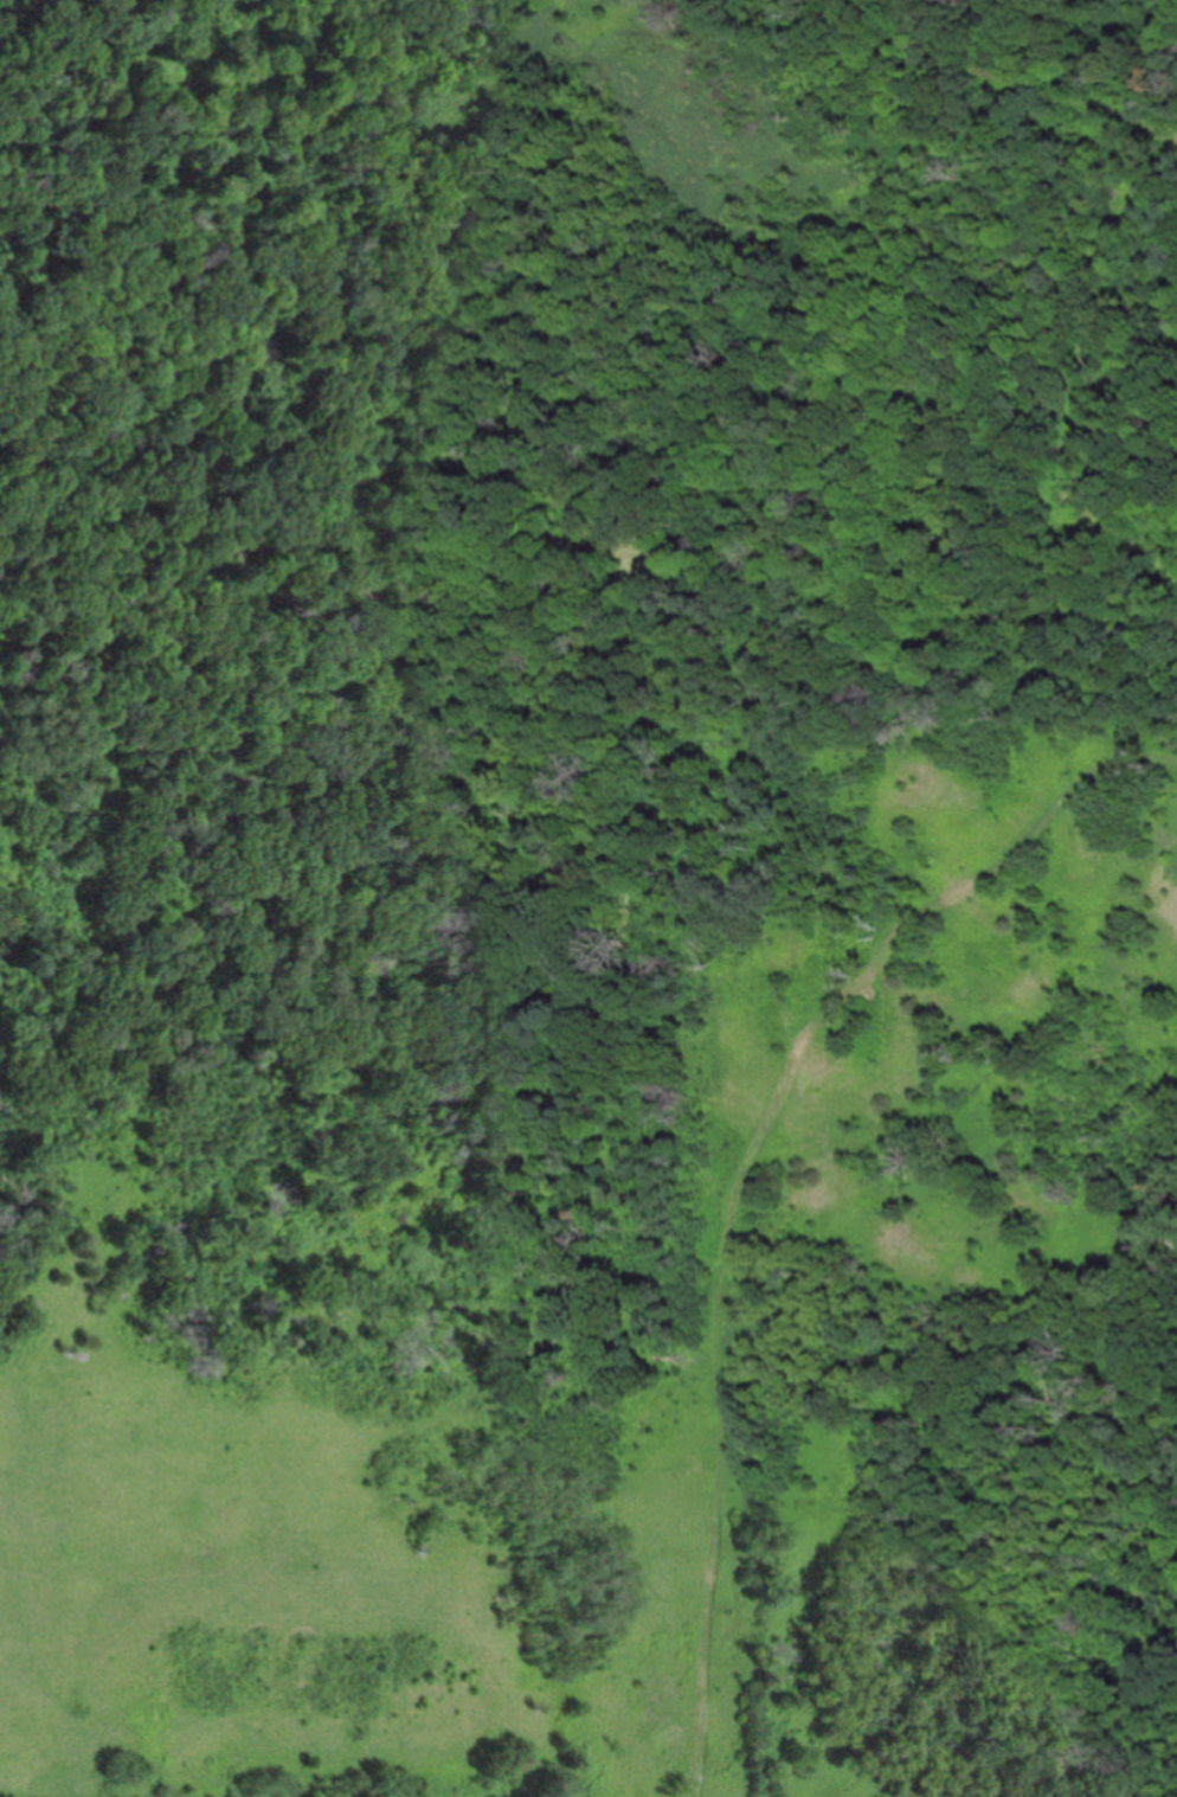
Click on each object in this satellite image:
road: (1030, 79)
road: (1073, 368)
park: (588, 898)
road: (748, 1169)

